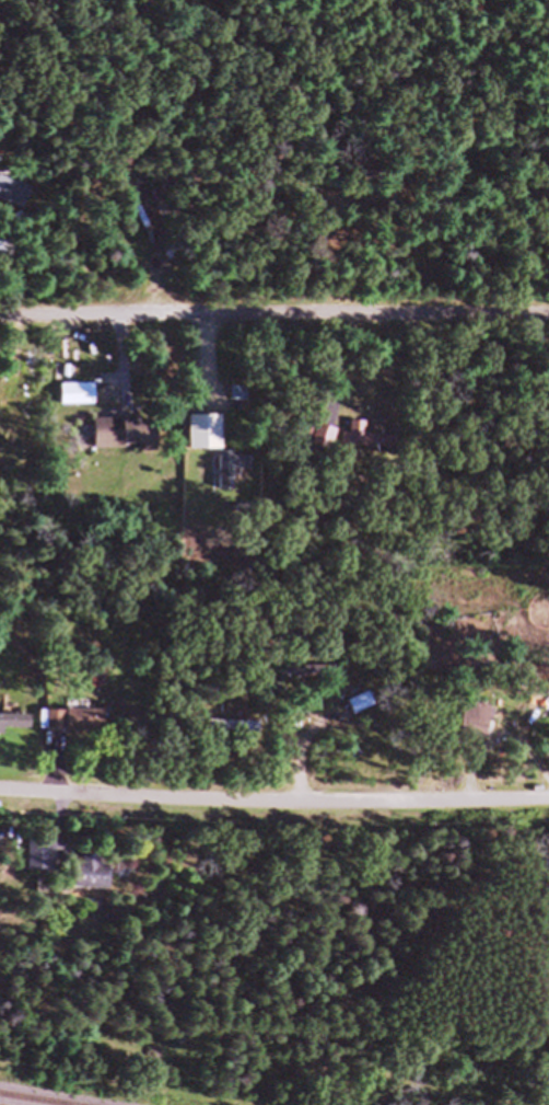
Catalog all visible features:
building: (149, 189)
building: (12, 199)
road: (273, 321)
building: (80, 402)
building: (205, 440)
building: (127, 441)
building: (325, 445)
building: (367, 445)
building: (236, 473)
building: (313, 681)
building: (471, 728)
building: (75, 729)
building: (8, 730)
building: (236, 737)
road: (273, 807)
building: (42, 864)
building: (90, 880)
railway: (9, 1103)

